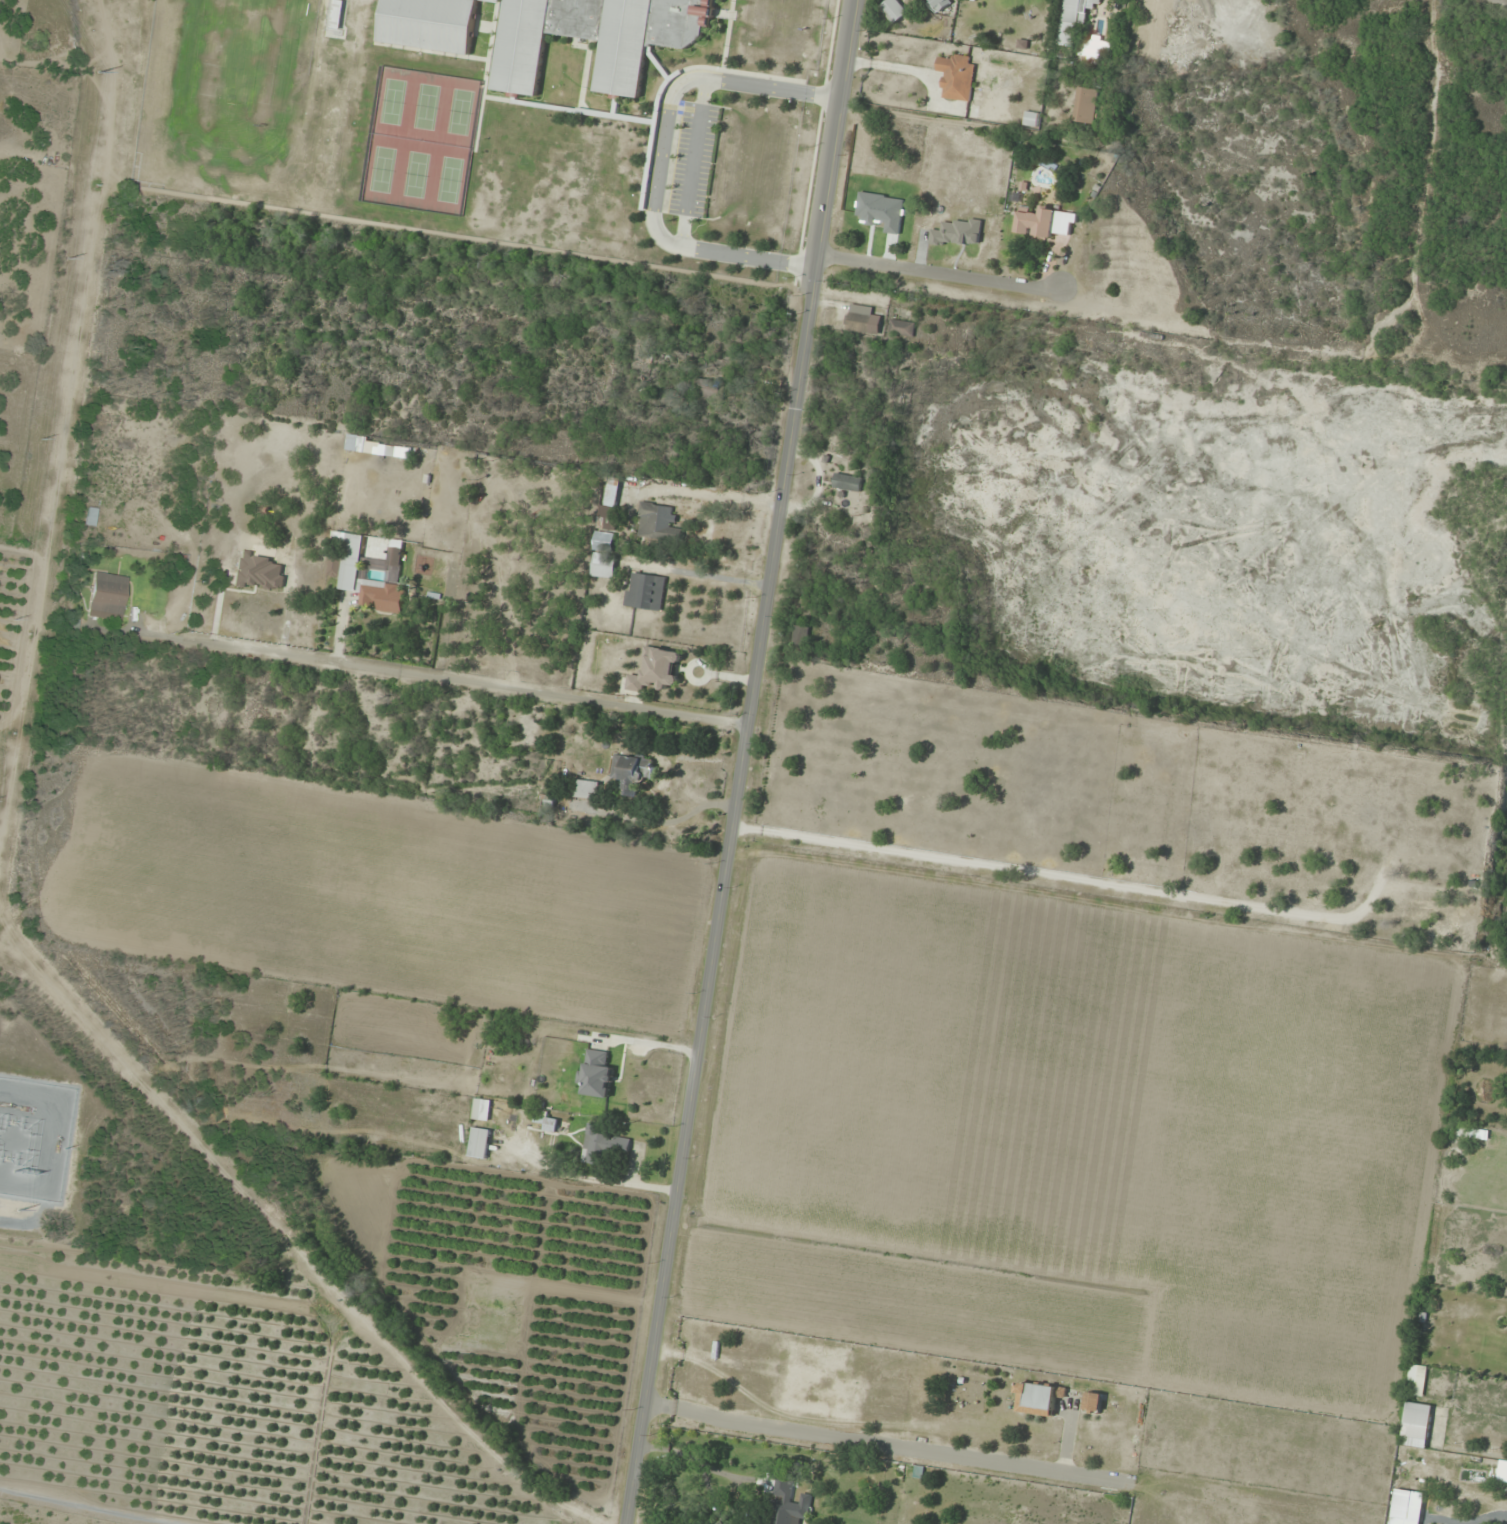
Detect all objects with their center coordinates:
building: (938, 4)
building: (893, 11)
building: (1074, 20)
building: (429, 24)
building: (595, 38)
building: (1095, 48)
park: (239, 49)
building: (958, 77)
park: (392, 102)
building: (1086, 105)
park: (426, 107)
park: (460, 112)
building: (1032, 119)
road: (660, 156)
parking lot: (693, 160)
road: (692, 162)
park: (382, 169)
park: (415, 175)
park: (449, 180)
building: (1037, 222)
road: (939, 276)
building: (863, 319)
building: (902, 328)
building: (706, 388)
building: (848, 483)
building: (657, 521)
building: (351, 574)
building: (645, 591)
building: (106, 596)
building: (802, 636)
building: (657, 670)
road: (468, 687)
road: (745, 762)
building: (632, 773)
building: (586, 789)
building: (597, 1075)
building: (482, 1110)
building: (548, 1121)
power substation: (33, 1137)
building: (480, 1143)
building: (603, 1146)
building: (1416, 1380)
building: (1038, 1399)
building: (1093, 1403)
building: (1416, 1425)
building: (790, 1512)

